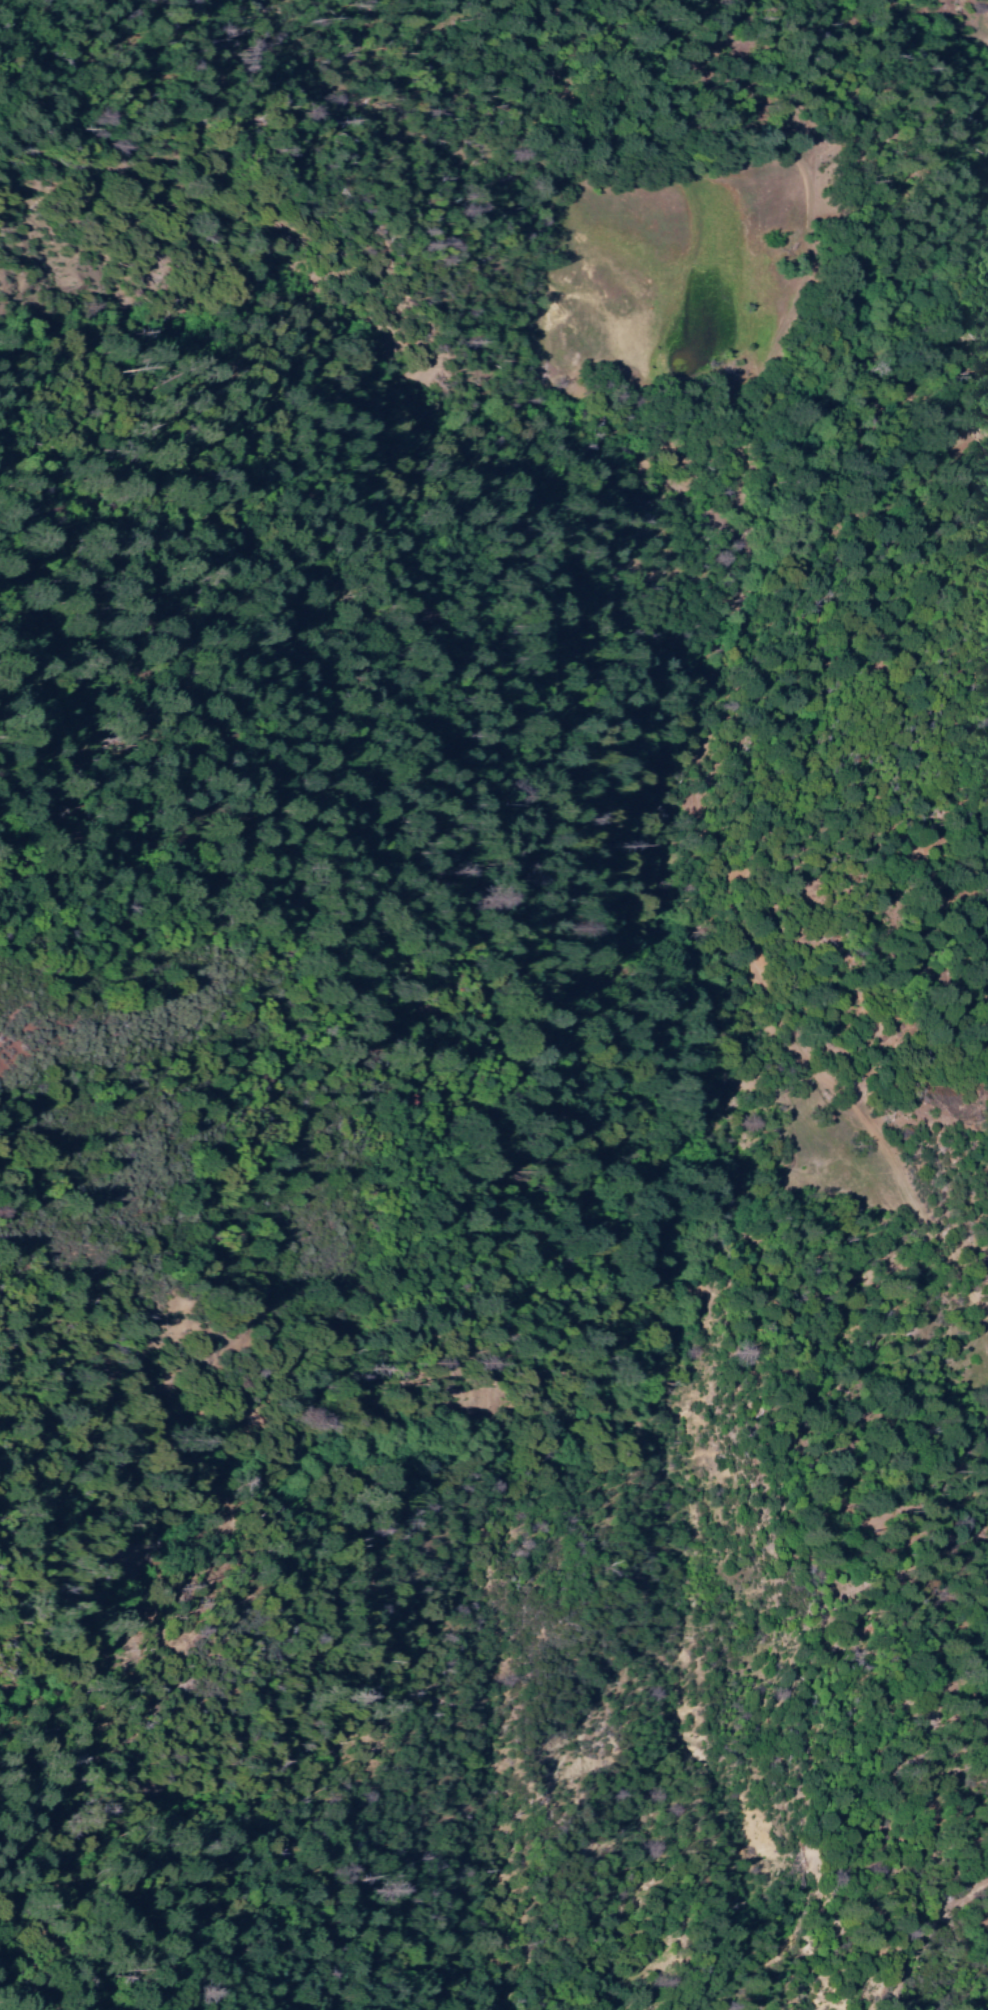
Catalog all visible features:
road: (645, 476)

